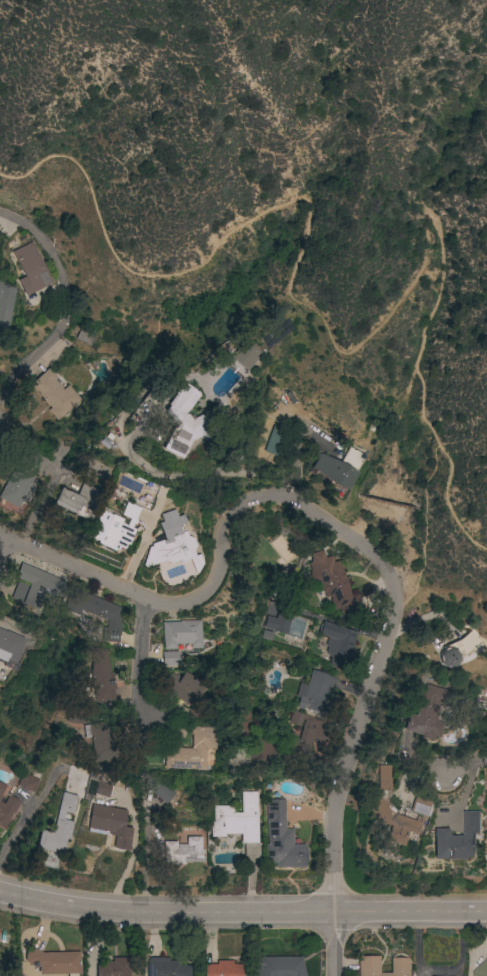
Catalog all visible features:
building: (31, 269)
road: (66, 302)
building: (5, 304)
building: (86, 336)
road: (327, 339)
building: (240, 354)
building: (54, 394)
building: (138, 414)
building: (182, 420)
building: (274, 440)
building: (29, 461)
building: (337, 468)
building: (16, 487)
building: (76, 500)
road: (154, 510)
road: (388, 517)
road: (424, 527)
building: (115, 528)
road: (1, 538)
building: (172, 544)
road: (223, 556)
building: (333, 584)
building: (36, 586)
building: (96, 612)
building: (278, 623)
building: (180, 634)
building: (337, 644)
building: (10, 649)
building: (457, 650)
road: (140, 658)
building: (170, 659)
building: (97, 679)
building: (179, 687)
building: (315, 692)
building: (194, 714)
building: (424, 714)
building: (176, 730)
building: (305, 734)
building: (99, 740)
building: (264, 748)
building: (191, 751)
road: (464, 768)
building: (384, 778)
building: (28, 783)
road: (341, 786)
building: (1, 789)
building: (103, 789)
building: (163, 793)
road: (467, 793)
road: (36, 800)
building: (7, 810)
building: (390, 820)
building: (110, 824)
building: (240, 824)
building: (58, 826)
building: (282, 839)
building: (458, 839)
building: (486, 848)
building: (183, 852)
road: (242, 913)
building: (53, 962)
building: (369, 965)
building: (281, 966)
building: (115, 967)
building: (166, 967)
building: (222, 969)
building: (481, 969)

